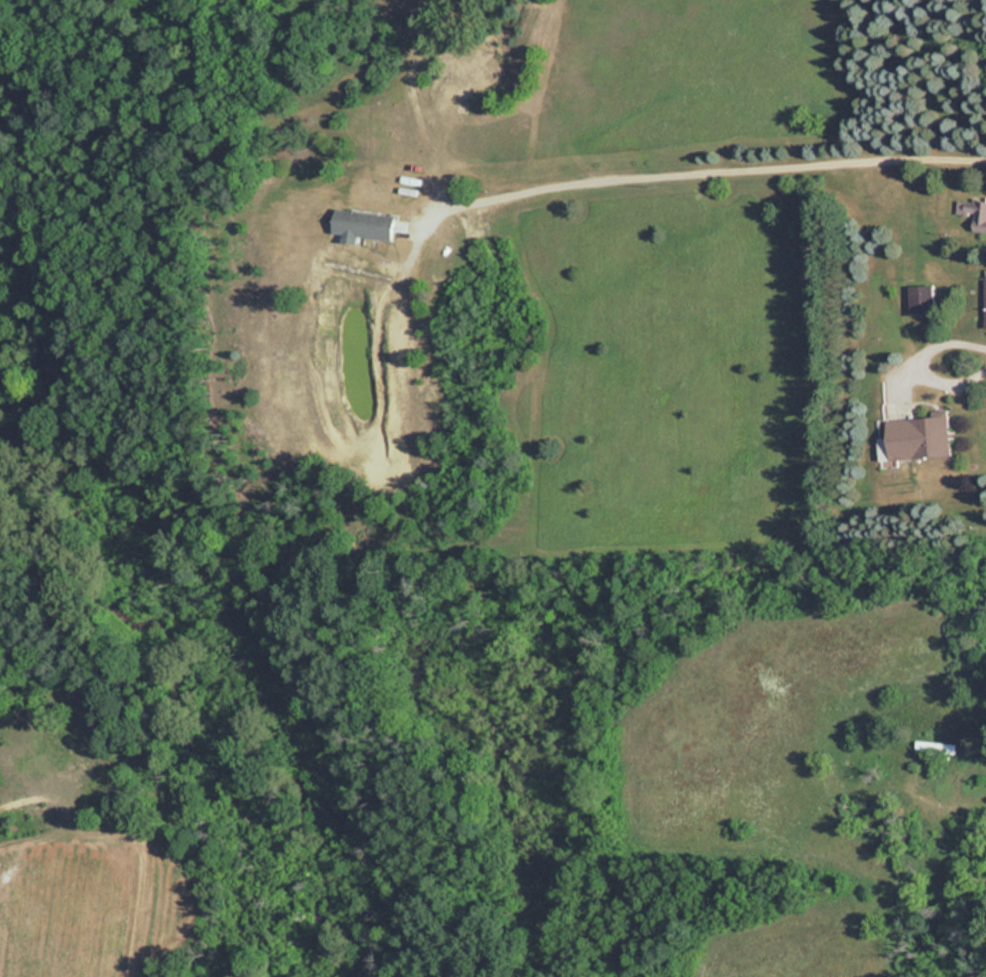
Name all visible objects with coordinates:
road: (713, 169)
building: (973, 212)
building: (366, 224)
building: (984, 297)
building: (922, 298)
building: (918, 436)
building: (937, 746)

